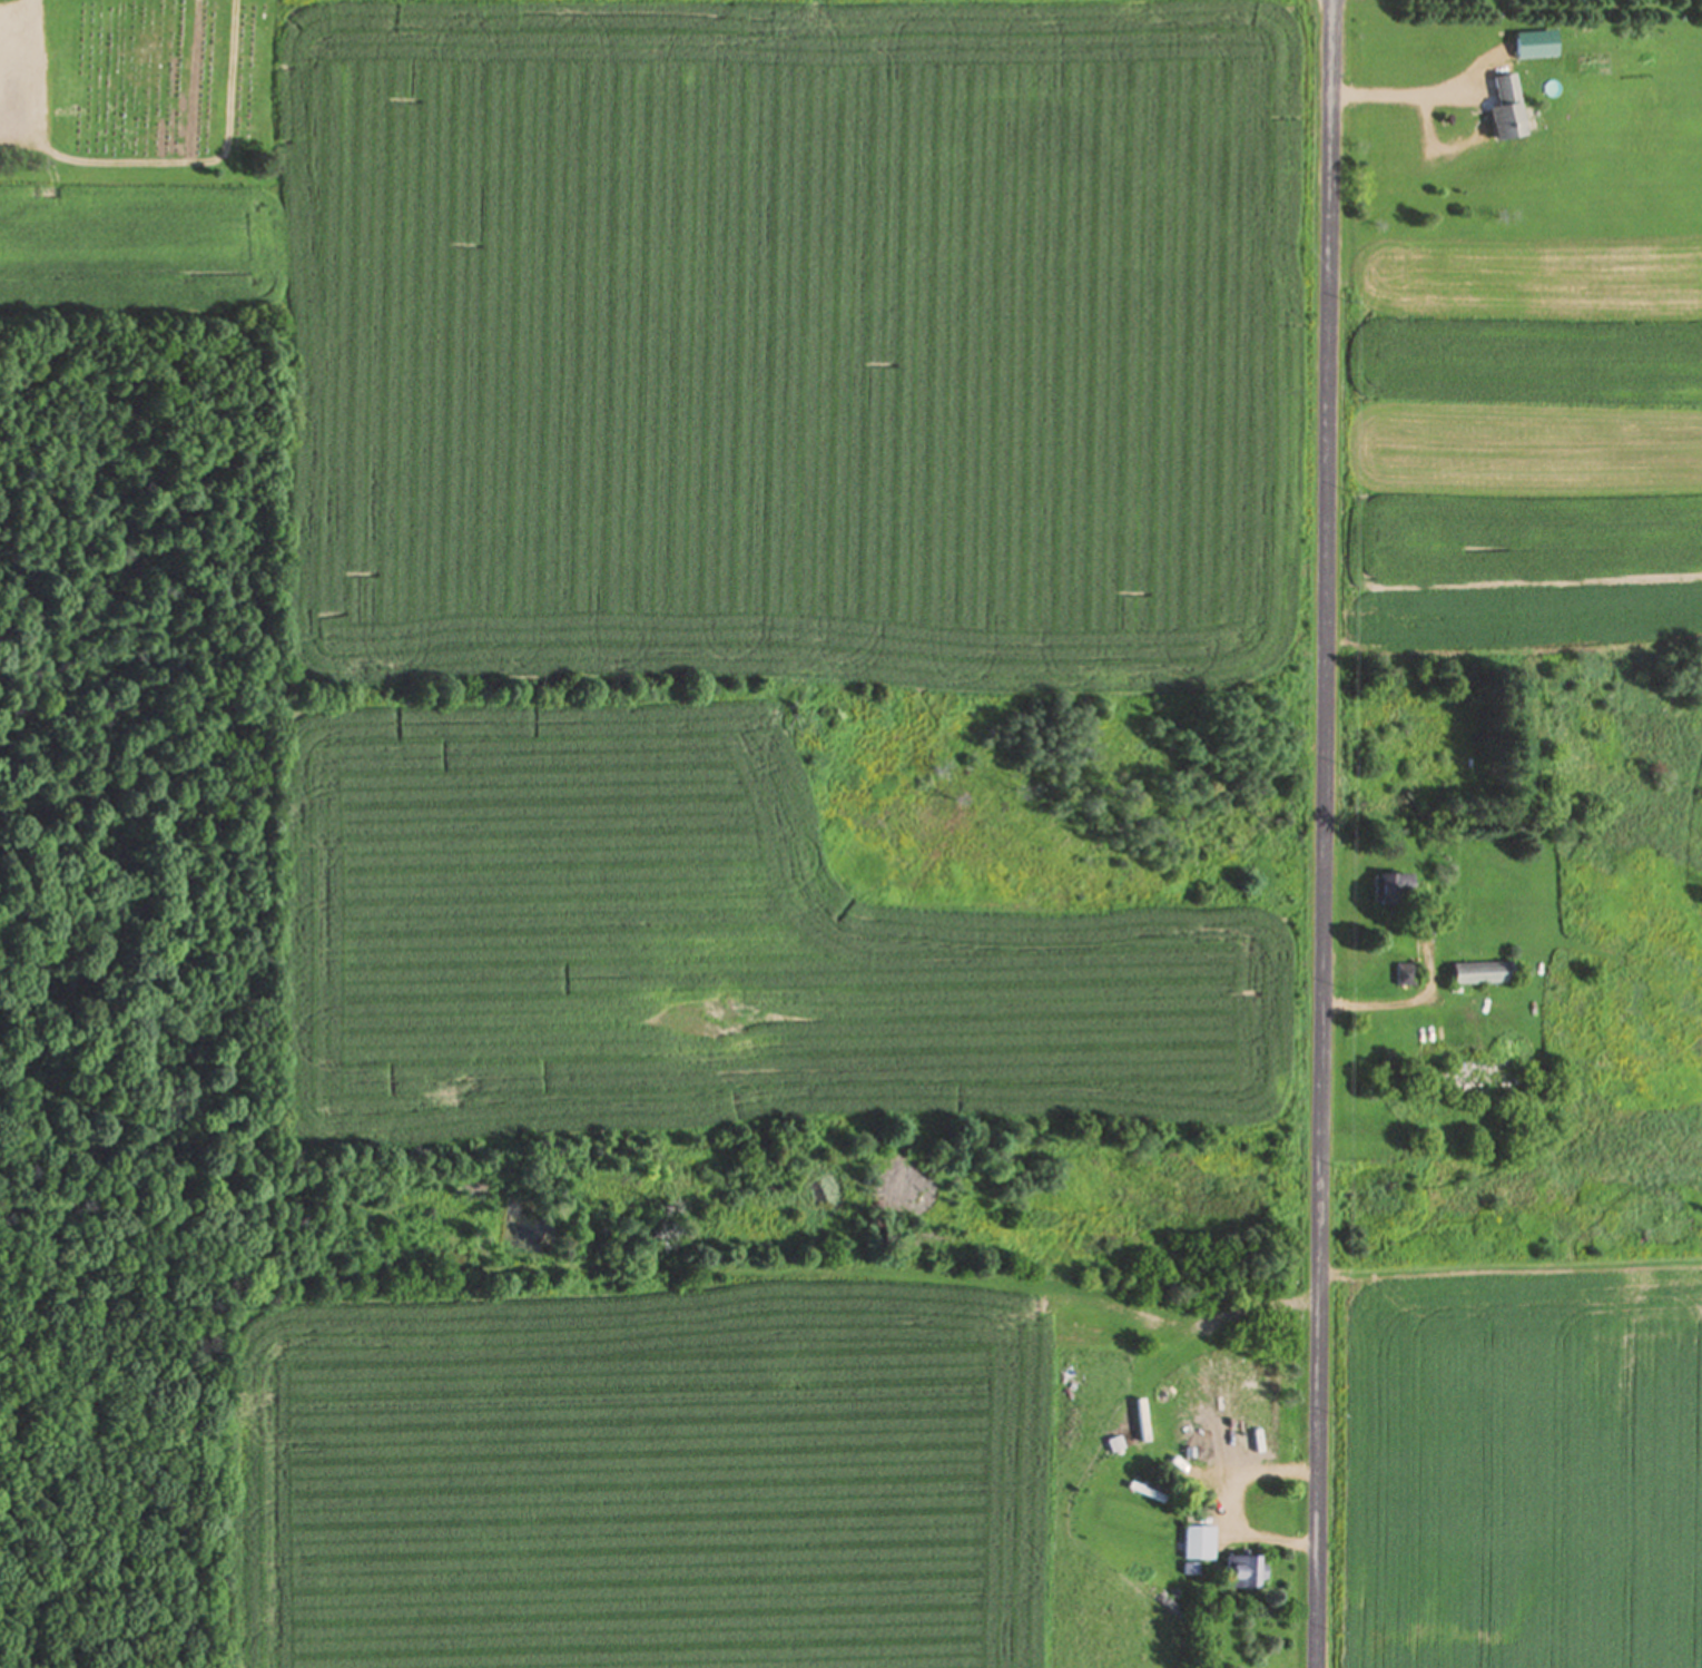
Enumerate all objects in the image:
building: (1534, 46)
building: (1504, 108)
road: (1322, 834)
building: (1394, 890)
building: (1482, 974)
building: (1405, 975)
building: (1485, 1078)
building: (1237, 1462)
building: (1199, 1544)
building: (1246, 1573)

